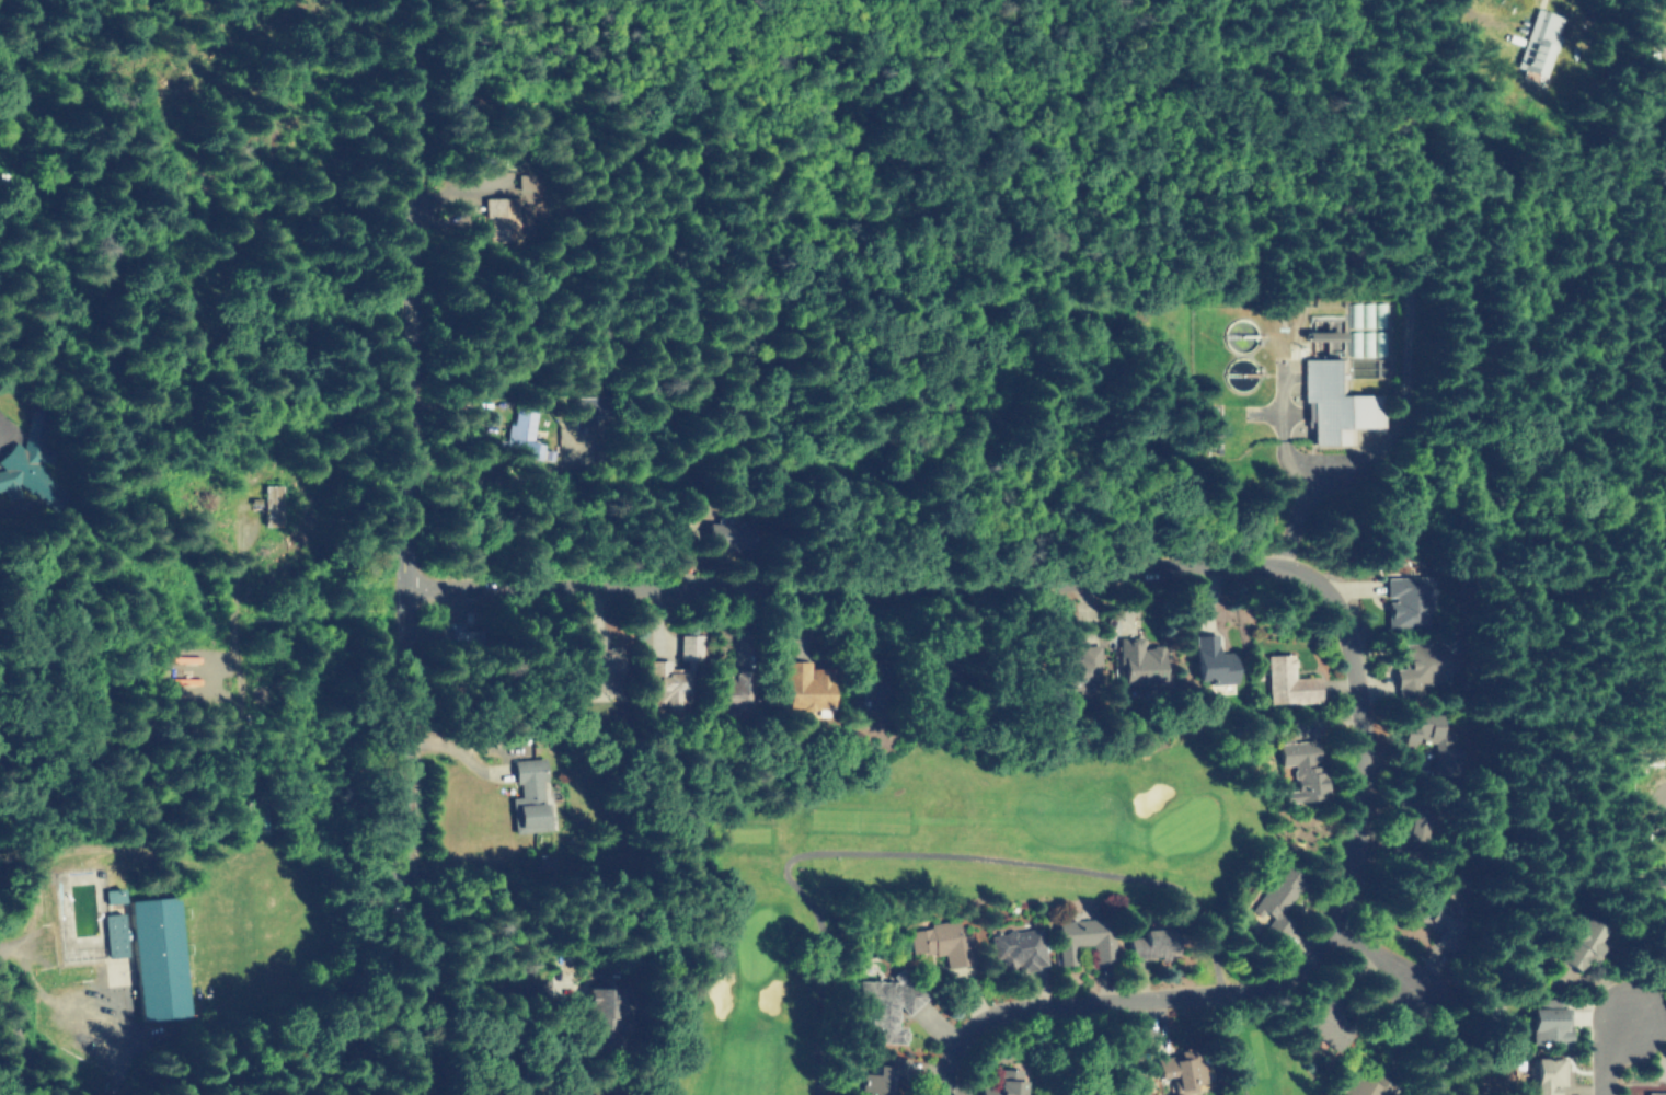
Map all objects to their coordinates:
road: (1455, 0)
road: (1654, 22)
building: (1537, 36)
building: (502, 216)
building: (1319, 335)
building: (1336, 403)
building: (587, 410)
building: (517, 430)
building: (564, 439)
road: (587, 457)
building: (28, 463)
building: (274, 505)
road: (1307, 506)
building: (727, 534)
road: (402, 547)
road: (1272, 569)
building: (1408, 602)
building: (470, 635)
building: (598, 659)
building: (1138, 661)
building: (1214, 661)
building: (1420, 662)
building: (1075, 667)
building: (940, 669)
building: (673, 672)
building: (1290, 681)
building: (806, 684)
building: (882, 684)
building: (736, 688)
building: (1431, 737)
building: (1300, 764)
building: (527, 791)
building: (1411, 829)
park: (935, 874)
building: (115, 896)
building: (80, 897)
building: (1278, 898)
building: (1446, 919)
building: (1083, 937)
building: (947, 941)
building: (1154, 942)
building: (1577, 942)
building: (1020, 946)
road: (1372, 950)
building: (152, 955)
building: (888, 1003)
building: (601, 1016)
building: (1548, 1018)
building: (1326, 1021)
road: (1135, 1047)
road: (1610, 1053)
building: (1181, 1069)
building: (1543, 1075)
building: (880, 1079)
building: (1003, 1080)
building: (1366, 1085)
building: (1654, 1093)

